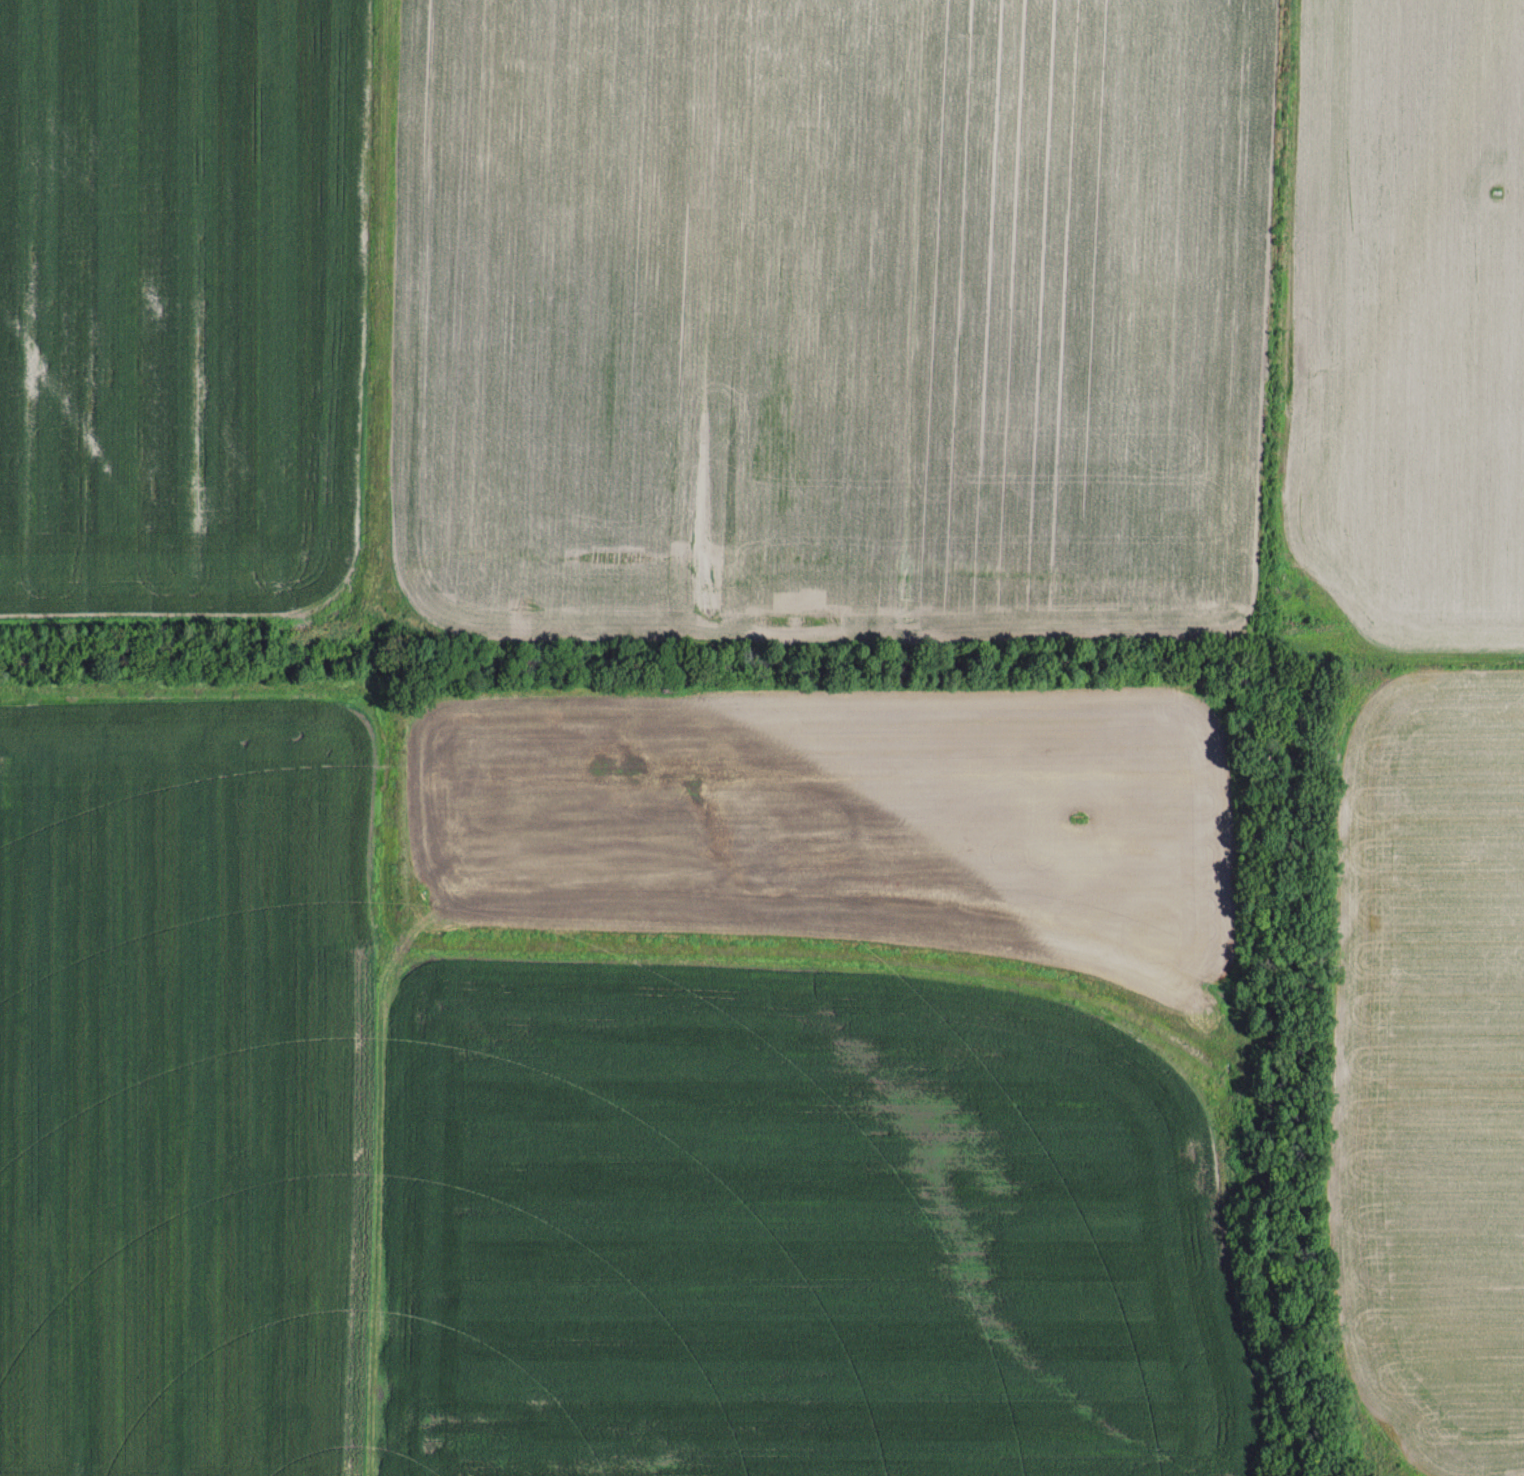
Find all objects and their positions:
road: (1446, 659)

